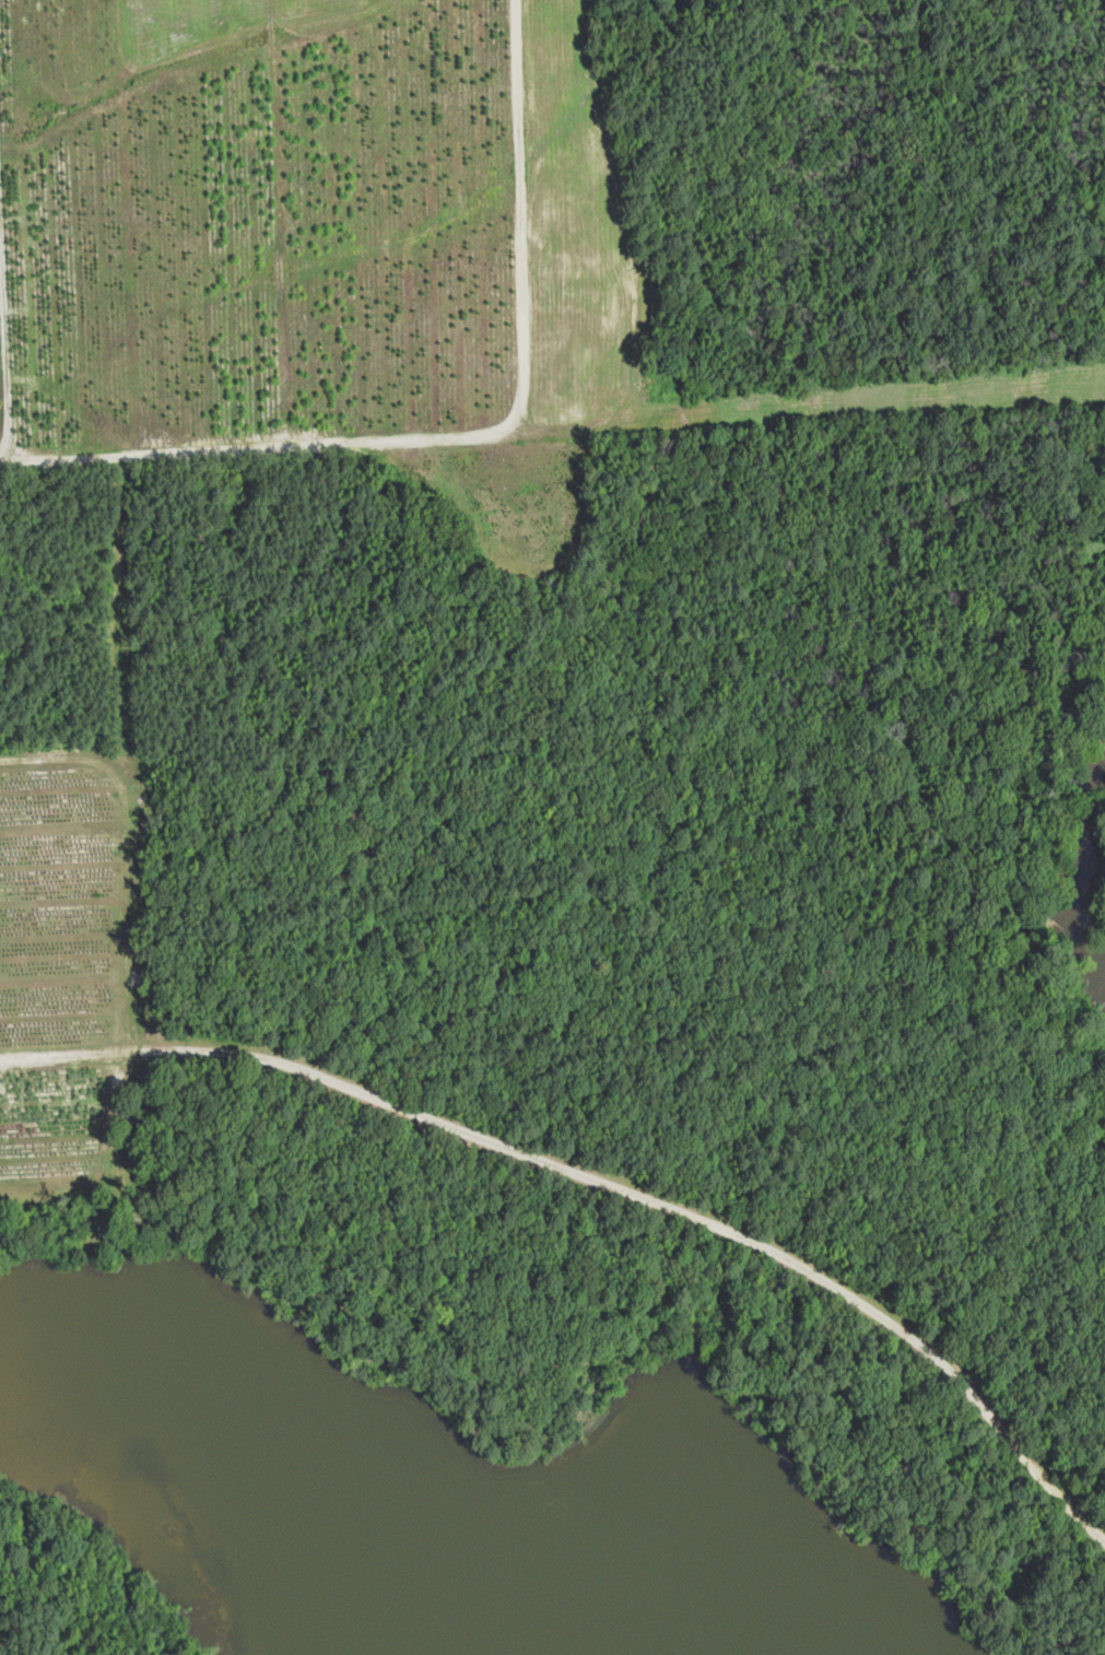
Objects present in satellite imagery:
river: (1078, 864)

